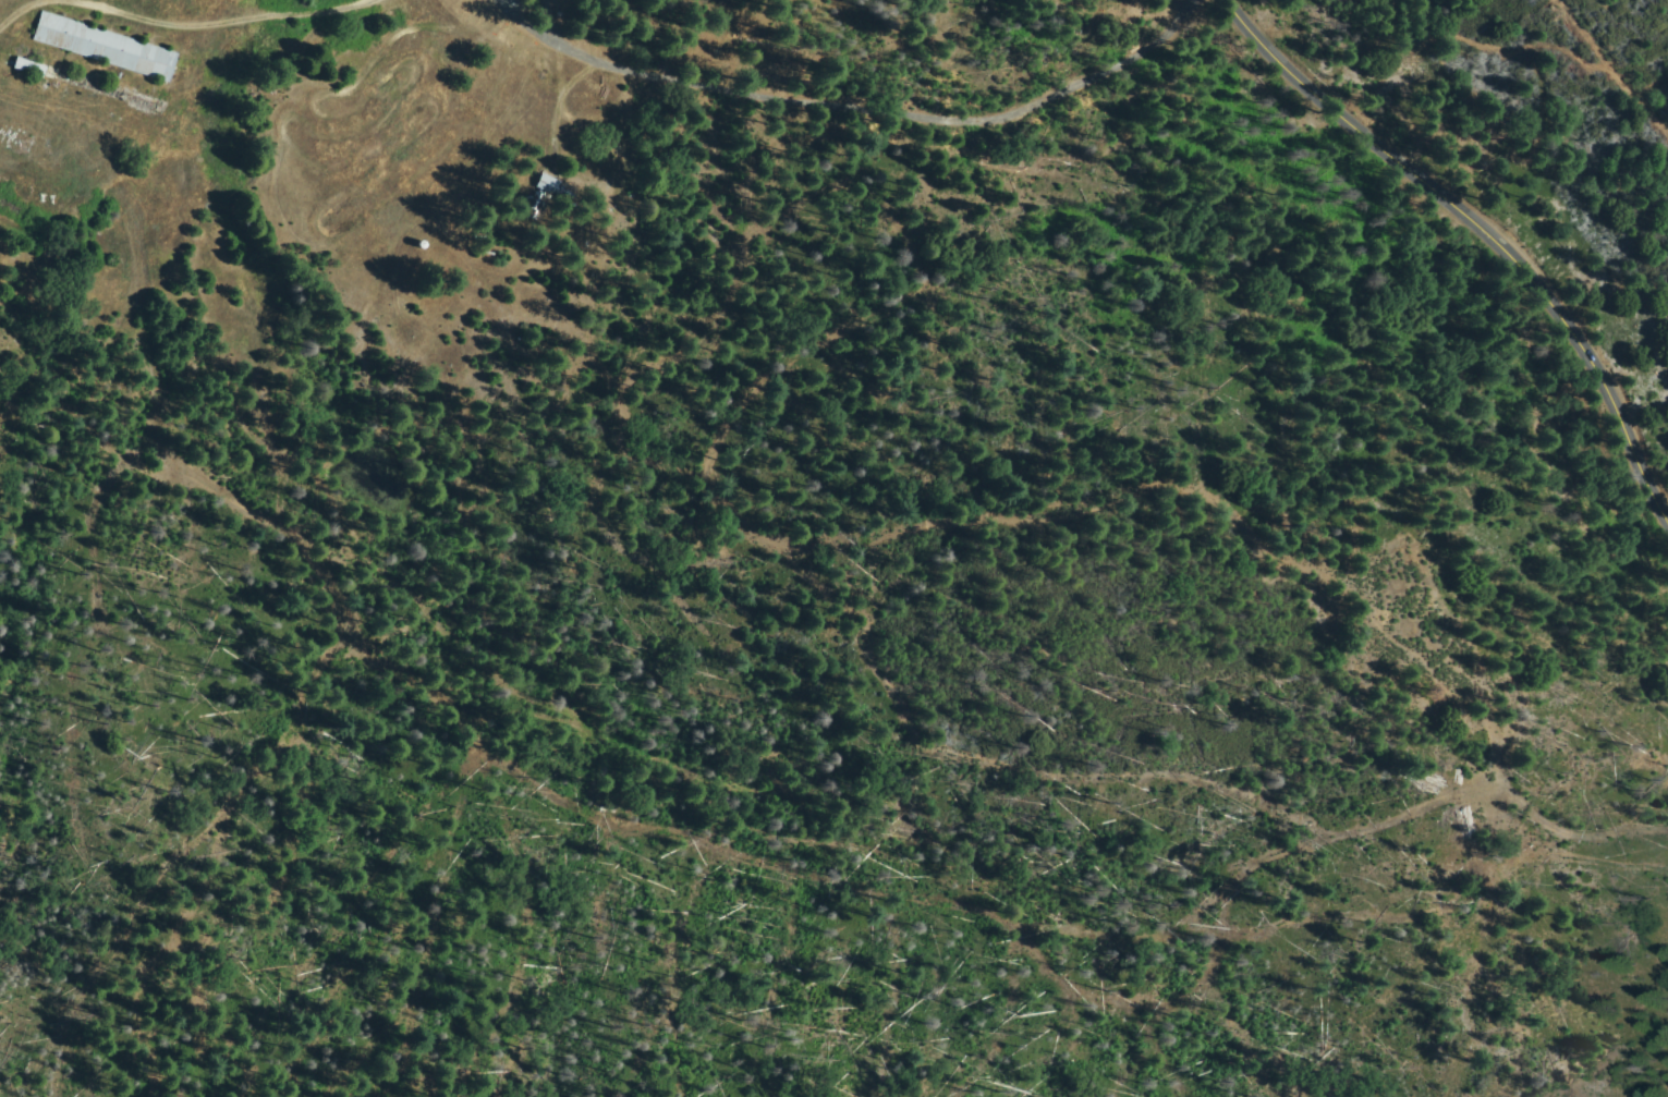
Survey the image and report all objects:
road: (196, 28)
road: (918, 35)
building: (106, 46)
building: (31, 66)
building: (549, 183)
building: (536, 207)
road: (1481, 223)
storage tank: (423, 244)
road: (58, 345)
road: (541, 754)
road: (1553, 843)

